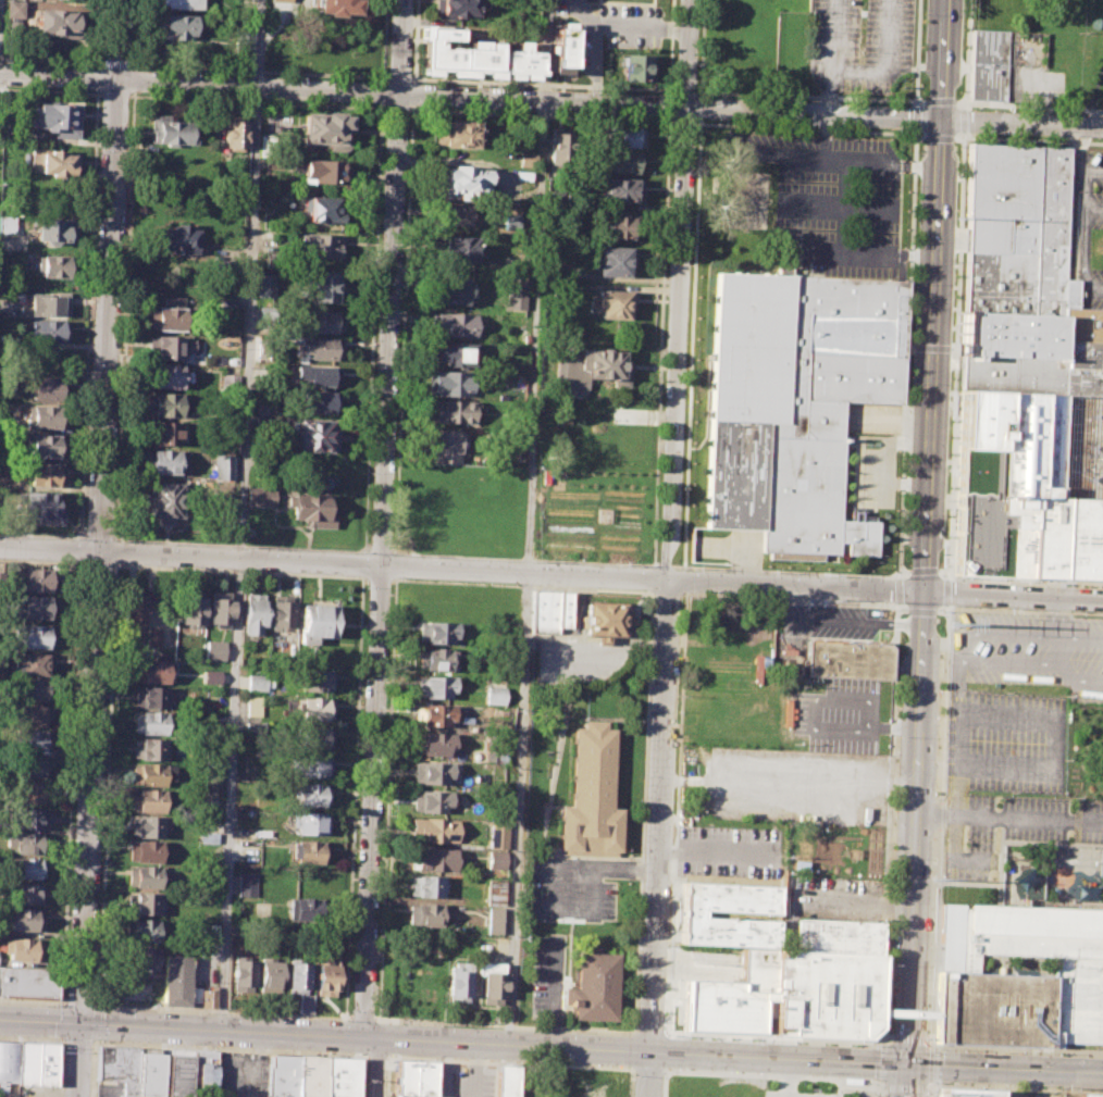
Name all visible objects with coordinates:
building: (280, 0)
building: (181, 3)
building: (337, 7)
building: (458, 7)
building: (13, 9)
building: (57, 21)
building: (176, 25)
road: (622, 27)
road: (98, 34)
road: (135, 34)
building: (243, 40)
road: (383, 40)
road: (414, 41)
parking lot: (858, 45)
road: (399, 47)
building: (562, 47)
road: (671, 47)
road: (701, 49)
road: (917, 53)
road: (966, 53)
building: (474, 57)
road: (829, 57)
road: (946, 60)
road: (50, 61)
road: (887, 62)
road: (114, 63)
building: (634, 67)
road: (258, 71)
building: (1007, 72)
road: (397, 77)
road: (96, 78)
road: (134, 79)
road: (541, 84)
road: (683, 90)
road: (49, 91)
road: (381, 92)
road: (412, 94)
road: (113, 95)
road: (809, 96)
road: (471, 97)
road: (256, 101)
road: (940, 101)
road: (669, 104)
road: (1028, 105)
road: (699, 108)
road: (396, 110)
road: (540, 115)
road: (916, 116)
building: (57, 119)
road: (964, 121)
road: (679, 122)
road: (1024, 123)
building: (326, 129)
road: (916, 130)
building: (172, 132)
building: (460, 134)
building: (234, 135)
building: (621, 136)
building: (561, 150)
road: (1078, 151)
building: (526, 159)
building: (619, 161)
building: (55, 162)
building: (321, 171)
building: (464, 179)
building: (617, 189)
park: (748, 199)
parking lot: (833, 199)
road: (806, 207)
building: (324, 209)
road: (1093, 209)
building: (455, 213)
power tower: (958, 217)
building: (7, 224)
building: (616, 227)
road: (1082, 227)
building: (51, 229)
building: (177, 239)
road: (910, 240)
building: (322, 246)
building: (458, 248)
building: (611, 261)
building: (52, 265)
building: (1025, 283)
building: (267, 285)
building: (323, 286)
building: (451, 290)
road: (678, 290)
building: (515, 295)
building: (226, 297)
building: (612, 303)
building: (46, 304)
road: (87, 315)
road: (124, 315)
building: (171, 319)
building: (321, 322)
building: (455, 324)
building: (49, 331)
road: (402, 331)
road: (659, 341)
building: (168, 347)
building: (319, 348)
building: (454, 354)
road: (955, 357)
building: (593, 369)
building: (315, 375)
building: (166, 376)
building: (228, 379)
building: (448, 383)
building: (45, 387)
building: (315, 401)
building: (165, 404)
building: (263, 407)
building: (793, 407)
building: (453, 411)
building: (45, 416)
building: (164, 434)
building: (312, 436)
building: (42, 446)
building: (445, 446)
road: (685, 449)
road: (368, 452)
building: (163, 462)
building: (222, 466)
building: (41, 474)
building: (1030, 488)
building: (261, 497)
building: (165, 500)
building: (40, 508)
building: (311, 510)
road: (99, 511)
road: (240, 515)
road: (528, 522)
road: (40, 535)
road: (98, 538)
road: (367, 549)
road: (78, 550)
road: (380, 550)
road: (115, 551)
road: (362, 552)
road: (523, 559)
road: (39, 562)
road: (94, 564)
road: (334, 564)
road: (363, 564)
road: (381, 565)
road: (395, 565)
road: (664, 565)
road: (679, 566)
road: (942, 569)
road: (922, 570)
road: (903, 571)
road: (362, 577)
road: (379, 578)
road: (650, 578)
road: (394, 579)
road: (1026, 579)
building: (38, 581)
road: (683, 581)
road: (521, 585)
road: (897, 590)
road: (647, 591)
road: (885, 591)
road: (947, 591)
road: (666, 594)
road: (683, 594)
road: (652, 595)
building: (37, 607)
building: (133, 608)
road: (926, 608)
building: (191, 610)
building: (219, 610)
building: (548, 611)
road: (921, 611)
building: (280, 613)
building: (252, 615)
road: (1053, 616)
building: (602, 619)
building: (315, 620)
parking lot: (850, 624)
power tower: (953, 624)
building: (439, 632)
building: (35, 635)
building: (153, 637)
building: (215, 650)
road: (1057, 650)
road: (957, 651)
building: (434, 659)
building: (848, 661)
building: (34, 664)
road: (358, 670)
building: (152, 671)
building: (211, 677)
building: (317, 680)
building: (257, 683)
building: (435, 686)
building: (32, 689)
building: (493, 694)
building: (150, 697)
building: (253, 706)
road: (680, 706)
building: (315, 708)
building: (30, 715)
building: (433, 715)
building: (149, 722)
building: (256, 728)
building: (315, 736)
building: (34, 740)
parking lot: (1004, 741)
building: (432, 744)
building: (152, 748)
building: (493, 751)
building: (29, 766)
building: (313, 766)
road: (1025, 768)
building: (151, 773)
building: (430, 773)
building: (211, 775)
road: (768, 783)
parking lot: (798, 784)
road: (107, 785)
building: (32, 793)
building: (588, 793)
building: (311, 794)
building: (147, 800)
building: (432, 800)
road: (69, 811)
building: (29, 818)
road: (1009, 819)
building: (310, 823)
road: (888, 823)
building: (145, 825)
road: (937, 826)
building: (433, 828)
parking lot: (1008, 830)
building: (497, 836)
building: (209, 837)
road: (658, 838)
building: (26, 843)
building: (144, 851)
building: (308, 851)
road: (715, 856)
building: (436, 859)
building: (495, 861)
road: (581, 867)
building: (29, 869)
building: (142, 877)
power tower: (932, 880)
building: (246, 884)
building: (424, 886)
building: (494, 892)
road: (592, 892)
building: (28, 893)
building: (1087, 893)
parking lot: (567, 894)
parking lot: (834, 898)
road: (855, 900)
building: (144, 902)
building: (305, 909)
building: (423, 914)
building: (690, 914)
building: (26, 920)
building: (493, 921)
building: (144, 931)
building: (836, 936)
building: (24, 949)
building: (148, 959)
street lamp: (888, 964)
building: (268, 973)
building: (241, 974)
parking lot: (546, 976)
building: (1017, 976)
building: (296, 977)
building: (175, 980)
building: (325, 980)
building: (29, 982)
building: (459, 982)
building: (593, 986)
building: (493, 988)
road: (554, 995)
building: (790, 995)
building: (208, 997)
road: (65, 1000)
street lamp: (39, 1003)
road: (82, 1003)
street lamp: (128, 1009)
road: (223, 1011)
street lamp: (233, 1014)
road: (362, 1019)
street lamp: (342, 1020)
road: (40, 1022)
road: (96, 1022)
street lamp: (666, 1022)
traffic signals: (80, 1024)
street lamp: (446, 1024)
road: (505, 1025)
street lamp: (567, 1031)
road: (648, 1031)
street lamp: (677, 1035)
road: (771, 1035)
road: (33, 1038)
street lamp: (763, 1038)
road: (94, 1040)
road: (78, 1043)
street lamp: (865, 1044)
street lamp: (63, 1046)
road: (1017, 1048)
road: (228, 1049)
road: (591, 1049)
street lamp: (953, 1049)
street lamp: (1049, 1052)
road: (375, 1056)
road: (78, 1060)
building: (8, 1061)
road: (508, 1061)
building: (27, 1063)
building: (47, 1063)
road: (879, 1063)
road: (934, 1063)
traffic signals: (909, 1064)
building: (119, 1067)
road: (377, 1068)
road: (646, 1068)
road: (62, 1069)
road: (92, 1070)
road: (474, 1070)
building: (202, 1073)
building: (150, 1074)
parking lot: (243, 1074)
building: (177, 1075)
building: (282, 1075)
building: (310, 1075)
street lamp: (632, 1075)
road: (773, 1075)
building: (342, 1076)
road: (363, 1076)
road: (387, 1076)
road: (786, 1077)
building: (413, 1079)
street lamp: (365, 1080)
parking lot: (475, 1080)
building: (506, 1081)
road: (629, 1082)
road: (934, 1082)
road: (664, 1083)
road: (876, 1083)
road: (850, 1084)
road: (1014, 1086)
road: (903, 1087)
road: (930, 1088)
road: (872, 1092)
building: (966, 1092)
parking lot: (795, 1094)
parking lot: (1029, 1094)
building: (1090, 1095)

